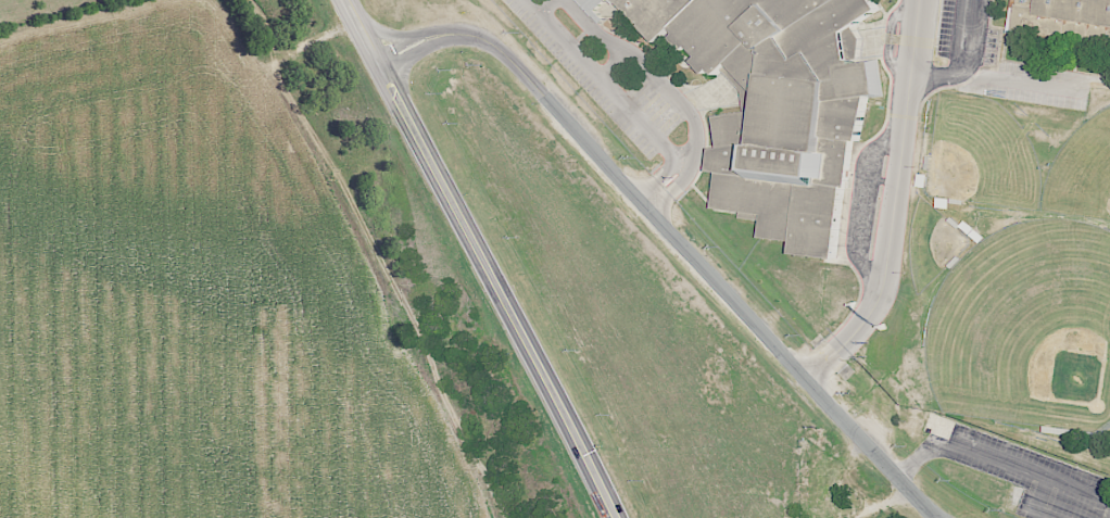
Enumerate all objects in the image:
building: (618, 0)
road: (547, 5)
building: (594, 8)
building: (1060, 12)
road: (890, 36)
parking lot: (964, 36)
road: (959, 37)
road: (969, 61)
road: (610, 64)
road: (1100, 78)
parking lot: (603, 81)
road: (606, 85)
road: (1022, 85)
road: (670, 93)
parking lot: (1022, 94)
building: (781, 104)
park: (981, 153)
park: (1082, 169)
road: (657, 180)
road: (862, 202)
road: (892, 202)
road: (672, 236)
park: (933, 242)
road: (480, 257)
crop: (194, 292)
park: (1026, 327)
road: (997, 457)
road: (1038, 500)

